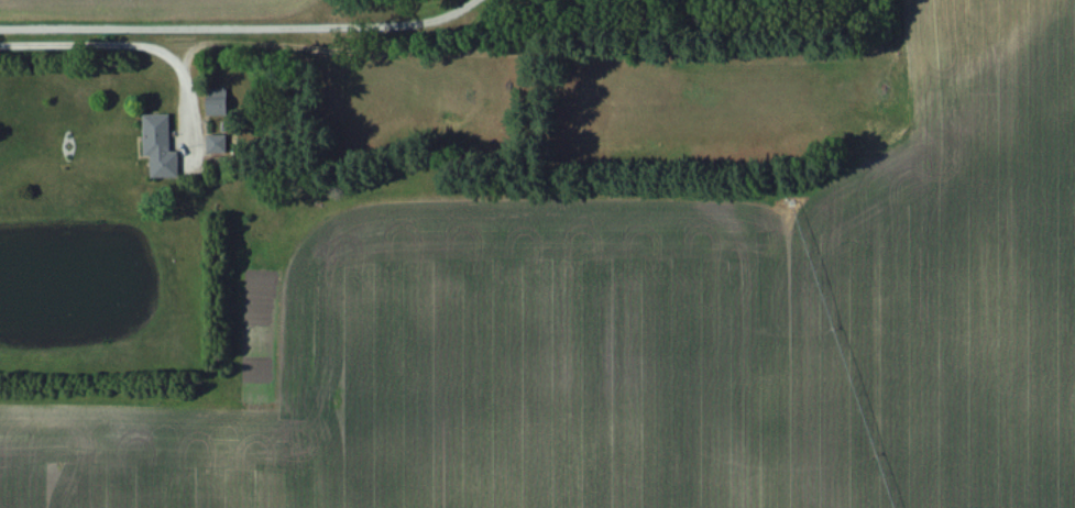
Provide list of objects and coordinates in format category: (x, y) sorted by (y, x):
road: (94, 37)
building: (212, 102)
building: (213, 143)
building: (155, 146)

